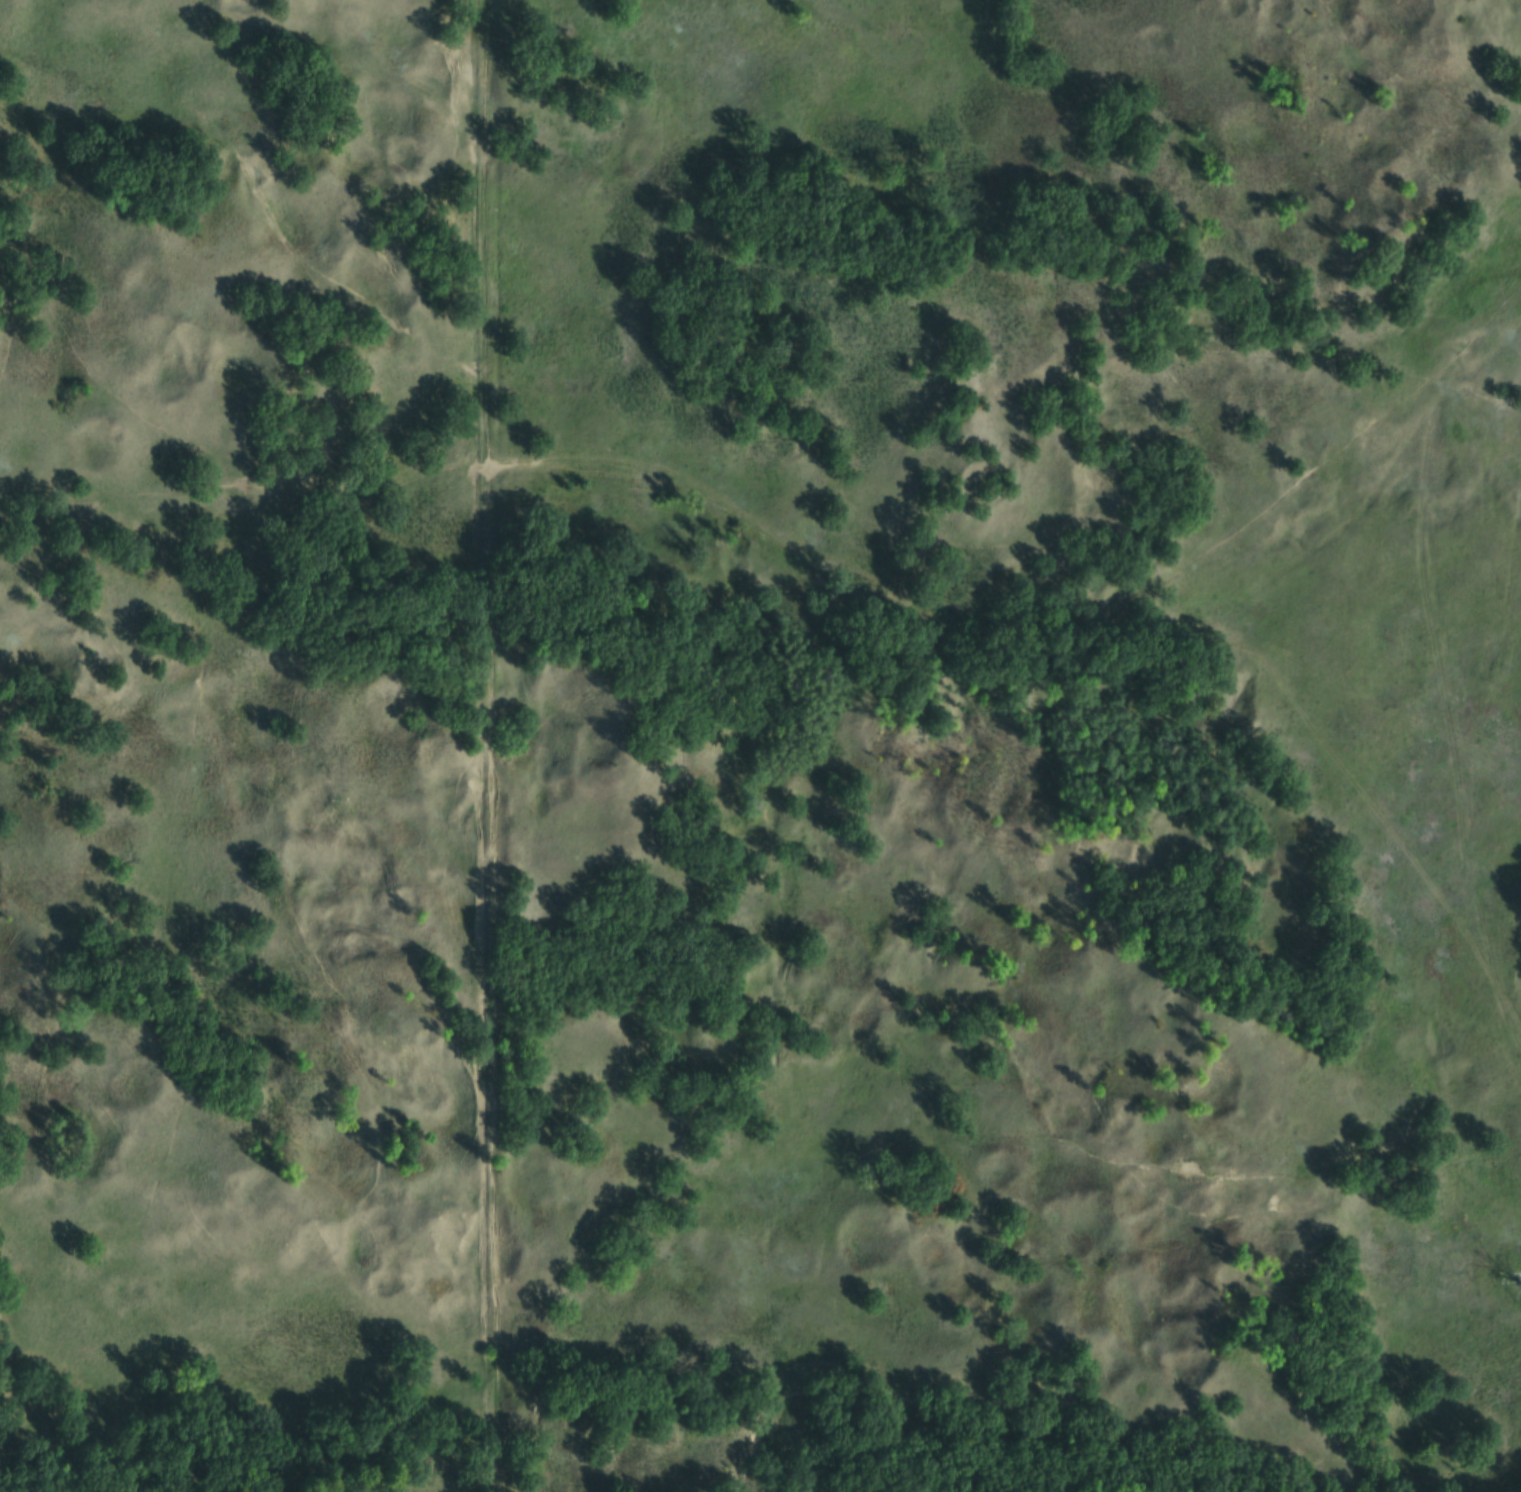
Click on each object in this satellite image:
road: (999, 1428)
road: (1510, 1487)
road: (1438, 1491)

